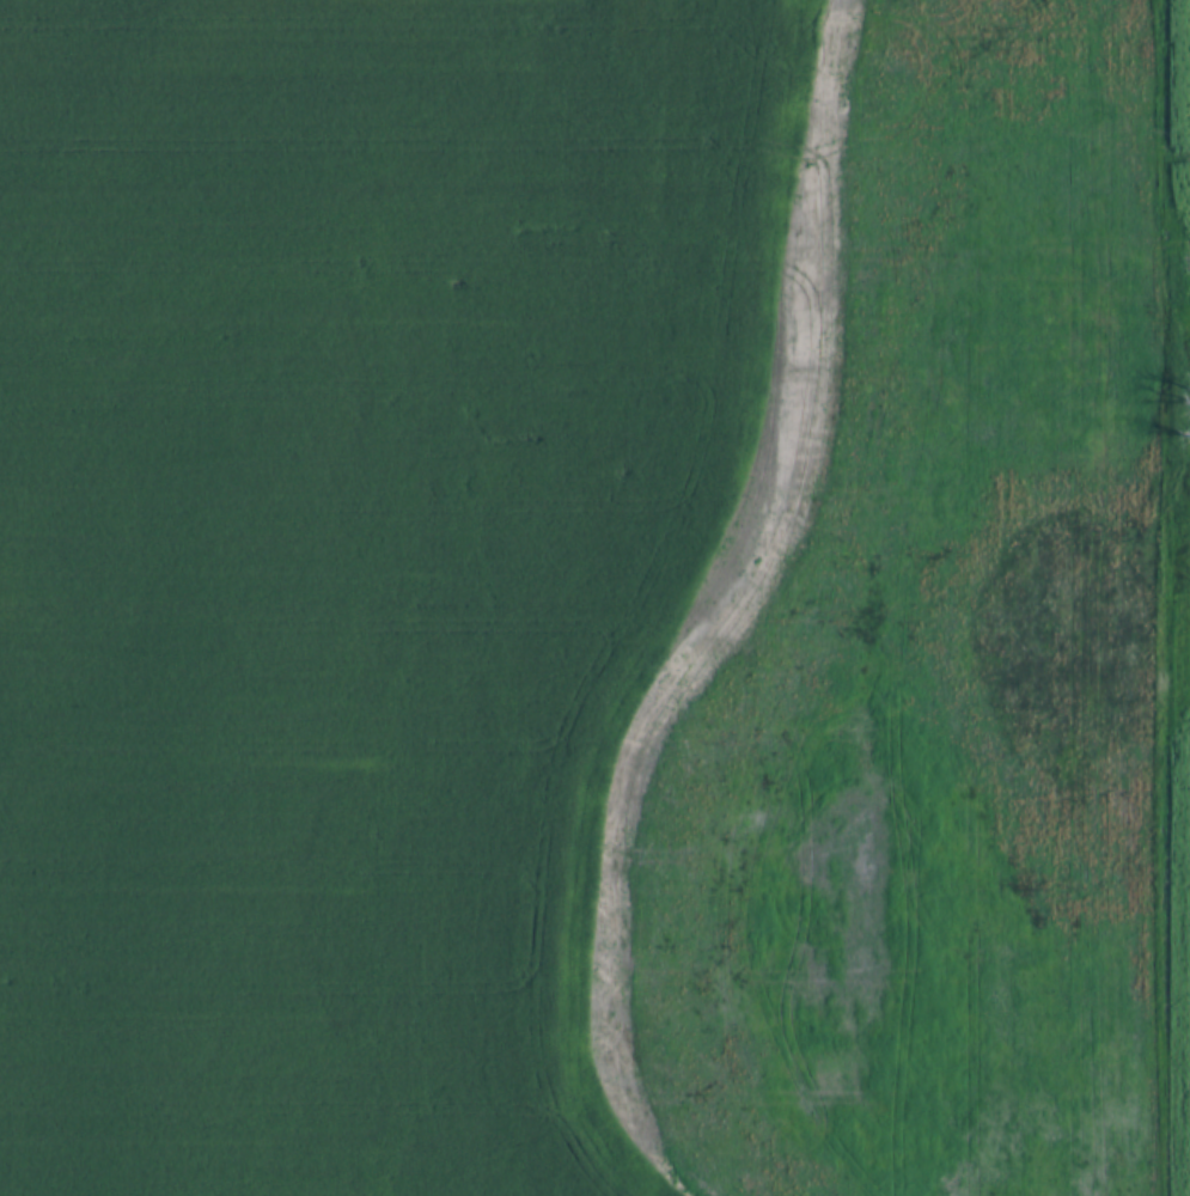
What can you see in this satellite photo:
road: (1179, 598)

